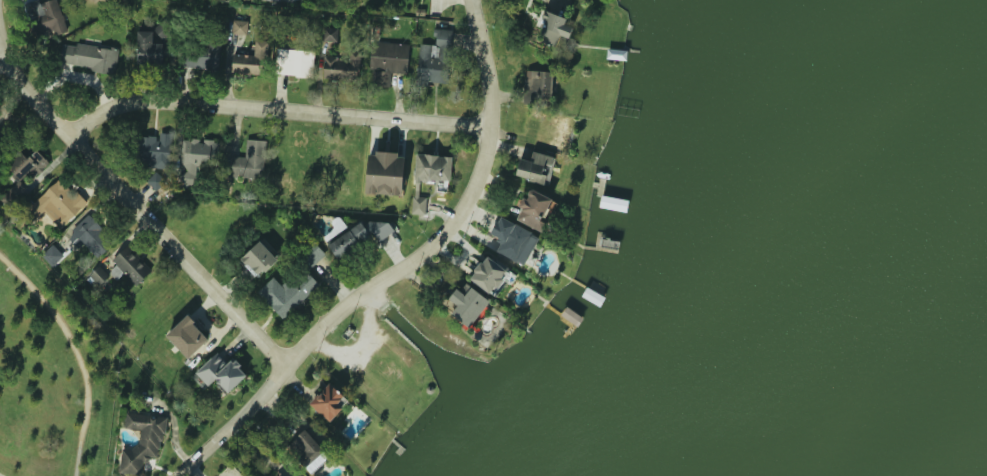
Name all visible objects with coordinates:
building: (275, 0)
building: (46, 17)
building: (239, 27)
building: (553, 29)
building: (158, 34)
building: (328, 34)
building: (150, 50)
building: (88, 56)
building: (200, 57)
building: (434, 57)
building: (250, 60)
building: (387, 61)
building: (295, 62)
building: (342, 67)
building: (538, 87)
road: (290, 115)
building: (154, 150)
building: (197, 157)
building: (248, 161)
building: (433, 167)
building: (535, 168)
building: (25, 171)
building: (385, 174)
building: (156, 180)
road: (125, 193)
building: (418, 201)
building: (58, 203)
building: (534, 209)
building: (331, 234)
building: (89, 235)
building: (360, 236)
building: (514, 240)
building: (52, 254)
building: (311, 255)
building: (259, 258)
building: (131, 265)
road: (400, 270)
building: (489, 275)
building: (99, 276)
building: (288, 293)
building: (468, 305)
building: (187, 337)
road: (75, 353)
building: (221, 372)
park: (46, 374)
building: (327, 402)
building: (142, 441)
building: (309, 451)

